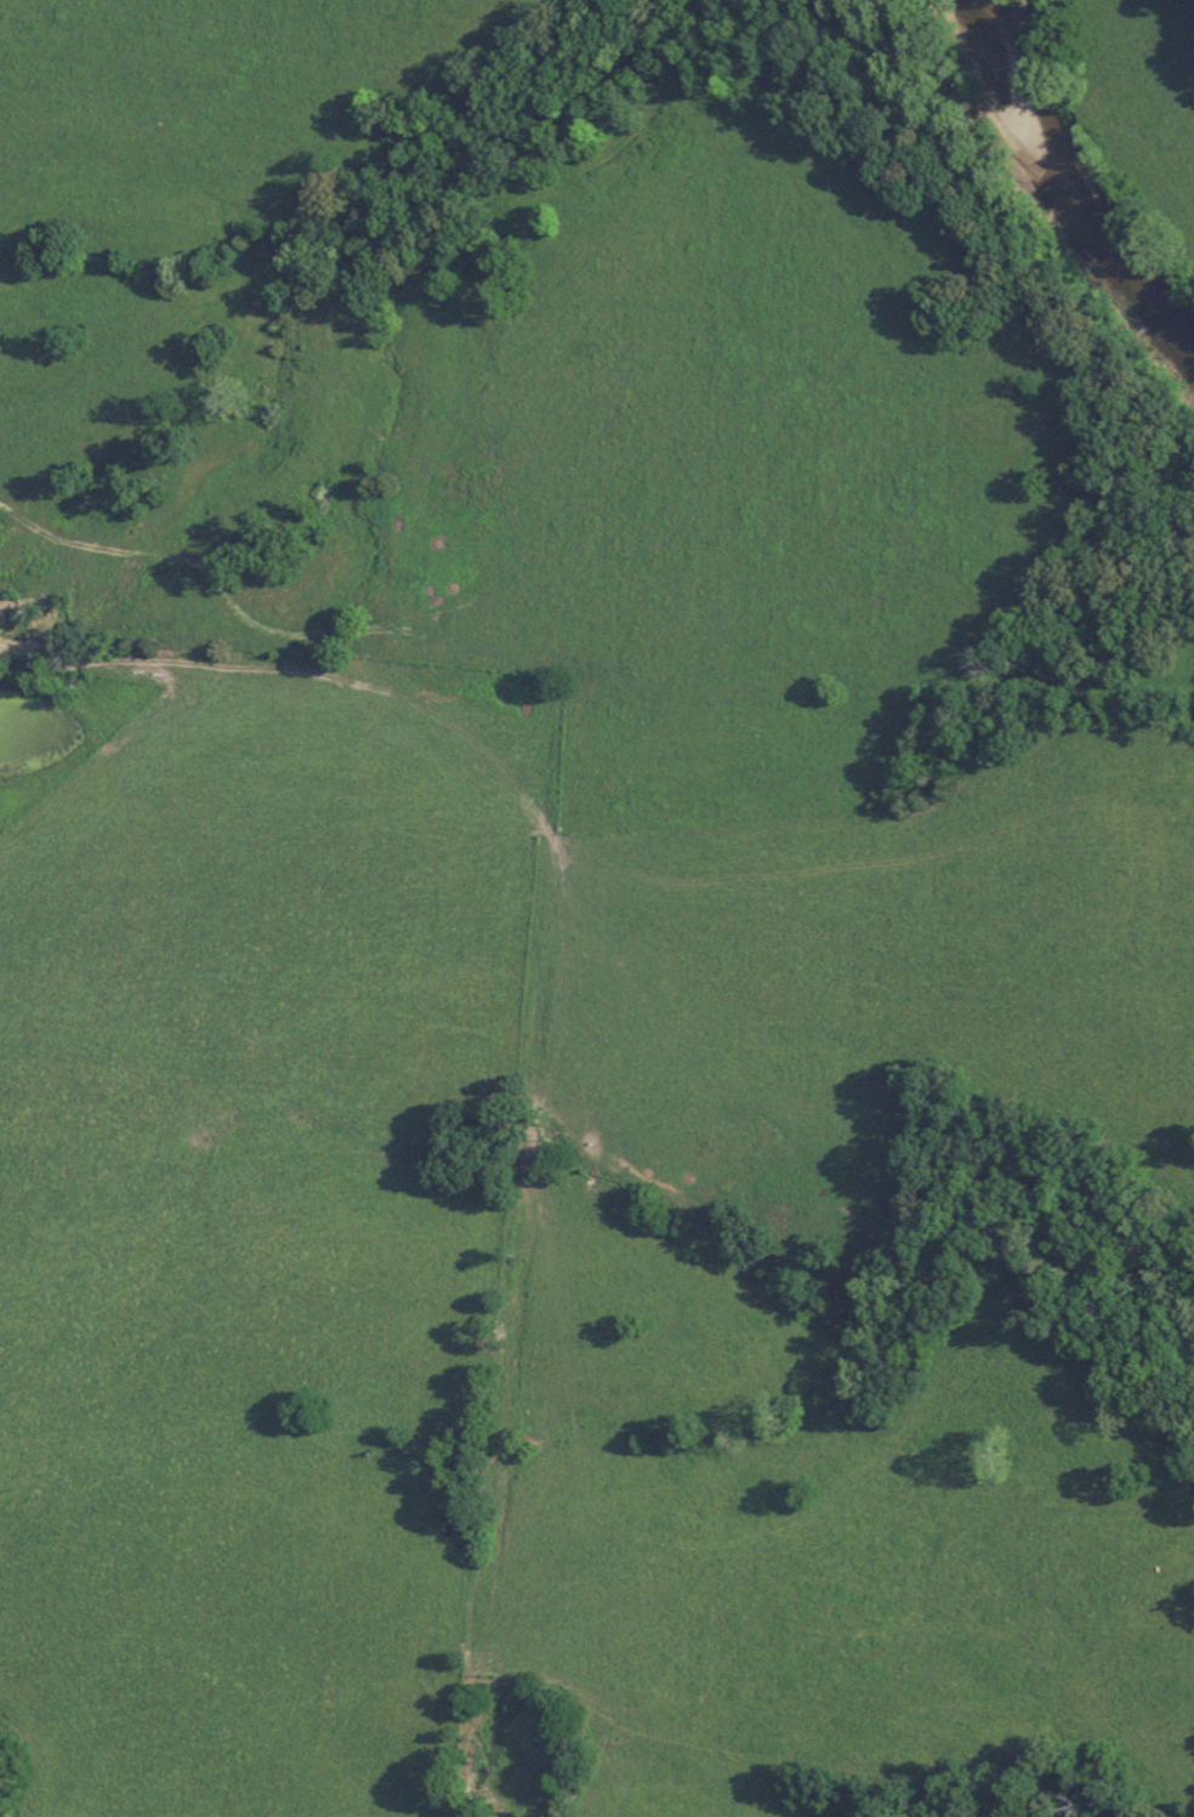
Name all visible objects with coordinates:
river: (1080, 174)
road: (90, 653)

